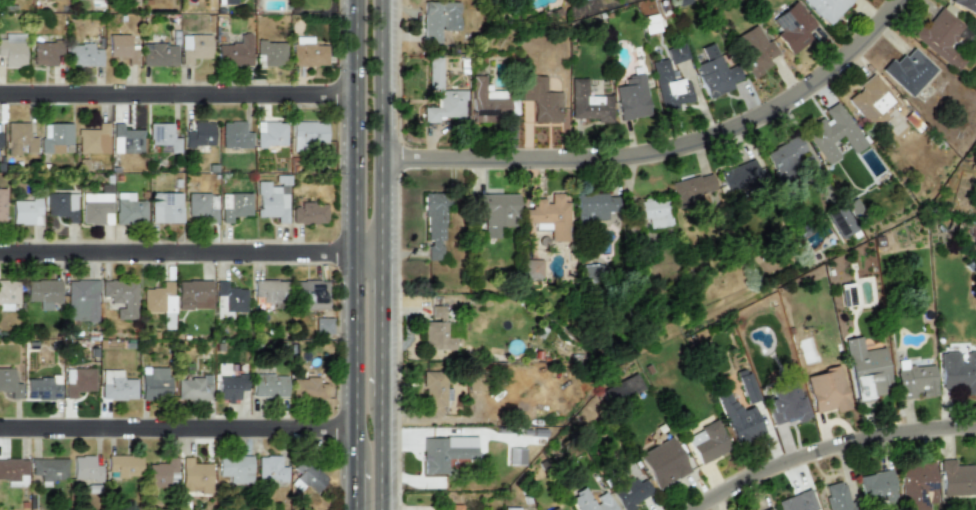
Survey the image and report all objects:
building: (131, 2)
building: (226, 2)
building: (965, 5)
building: (827, 8)
building: (439, 20)
building: (650, 24)
building: (793, 27)
building: (941, 37)
building: (194, 47)
building: (122, 48)
building: (12, 49)
building: (755, 50)
building: (46, 52)
building: (235, 52)
building: (308, 52)
building: (270, 53)
building: (676, 53)
building: (159, 54)
building: (83, 55)
building: (908, 71)
building: (715, 72)
building: (435, 73)
building: (670, 87)
road: (178, 90)
building: (632, 98)
building: (541, 99)
building: (872, 101)
building: (487, 102)
building: (588, 103)
building: (446, 106)
road: (356, 123)
road: (381, 124)
building: (307, 133)
building: (834, 133)
building: (199, 134)
building: (270, 134)
building: (54, 135)
building: (235, 135)
building: (163, 136)
building: (19, 138)
building: (0, 139)
building: (93, 139)
building: (125, 139)
road: (660, 145)
building: (784, 156)
building: (740, 176)
building: (692, 187)
building: (271, 200)
building: (2, 204)
building: (60, 205)
building: (234, 205)
building: (201, 206)
building: (594, 206)
building: (165, 207)
building: (96, 208)
building: (128, 208)
building: (25, 211)
building: (309, 212)
building: (497, 212)
building: (654, 212)
building: (548, 217)
building: (841, 220)
building: (434, 225)
road: (368, 248)
road: (178, 249)
building: (532, 269)
building: (42, 290)
building: (268, 292)
building: (8, 294)
building: (194, 294)
building: (310, 294)
building: (847, 294)
building: (120, 296)
building: (159, 298)
building: (81, 300)
building: (228, 300)
road: (380, 322)
building: (323, 325)
building: (436, 336)
road: (356, 353)
building: (866, 370)
building: (958, 371)
building: (77, 380)
building: (915, 382)
building: (9, 383)
building: (154, 383)
building: (116, 385)
building: (269, 385)
building: (230, 386)
building: (42, 387)
building: (307, 387)
building: (193, 388)
building: (747, 388)
building: (621, 389)
building: (826, 390)
building: (433, 394)
building: (738, 418)
road: (178, 424)
building: (707, 442)
road: (828, 447)
building: (446, 452)
road: (380, 453)
building: (662, 463)
building: (123, 465)
building: (85, 468)
building: (235, 468)
building: (269, 468)
building: (48, 469)
building: (14, 471)
building: (162, 473)
building: (306, 475)
building: (194, 476)
building: (957, 479)
road: (355, 484)
building: (917, 485)
building: (878, 487)
building: (632, 493)
building: (837, 496)
building: (591, 501)
building: (797, 502)
building: (452, 508)
building: (511, 508)
building: (556, 509)
building: (768, 509)

